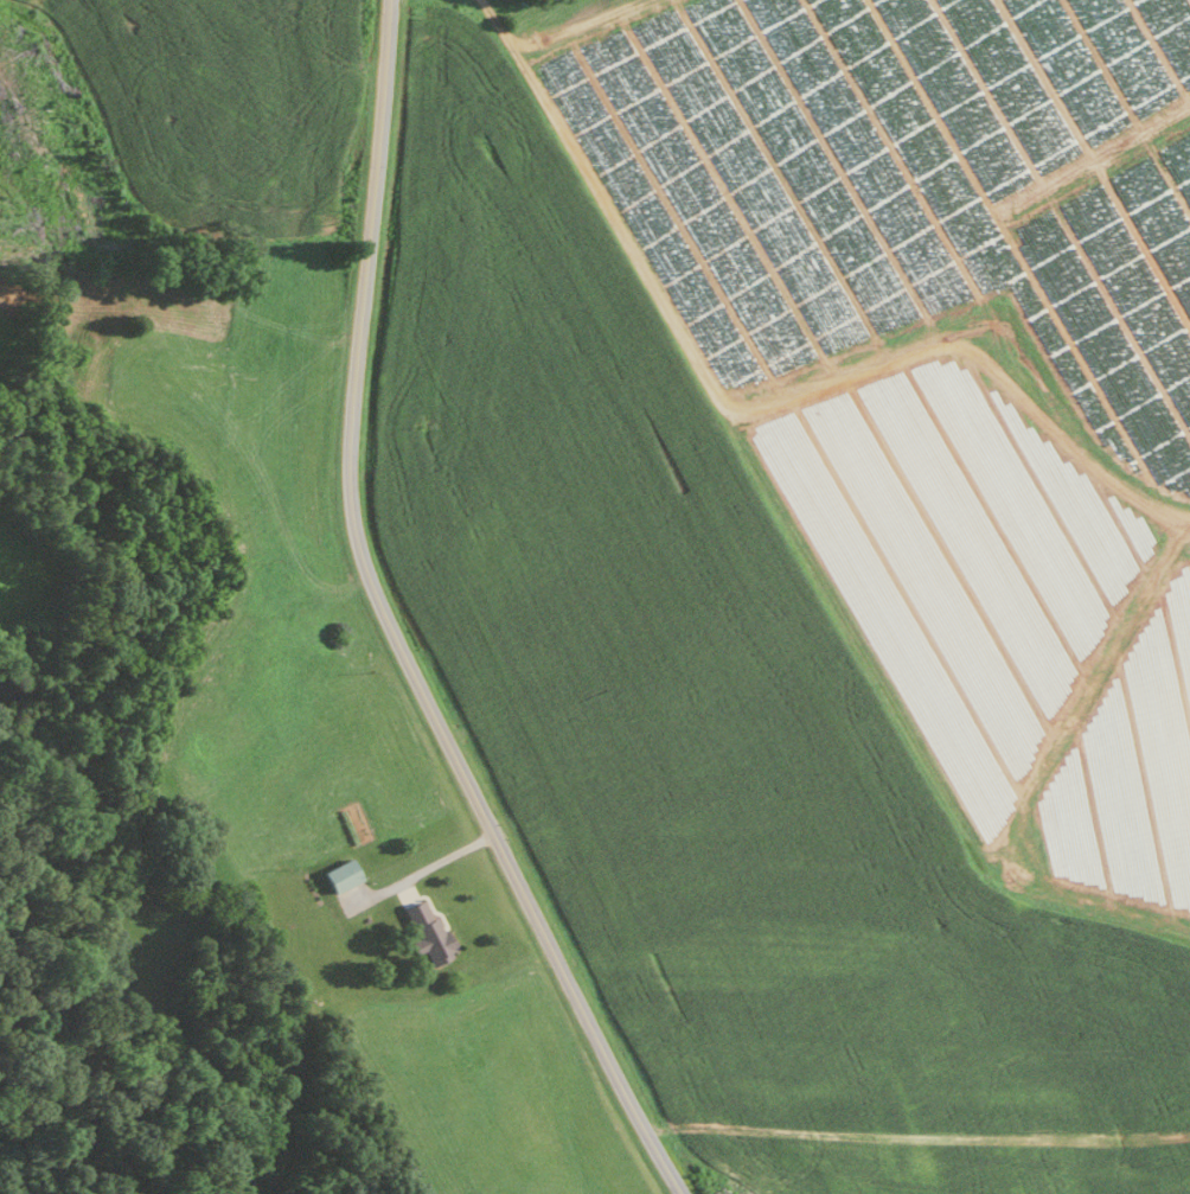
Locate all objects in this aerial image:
road: (389, 627)
road: (424, 869)
building: (338, 873)
building: (424, 931)

